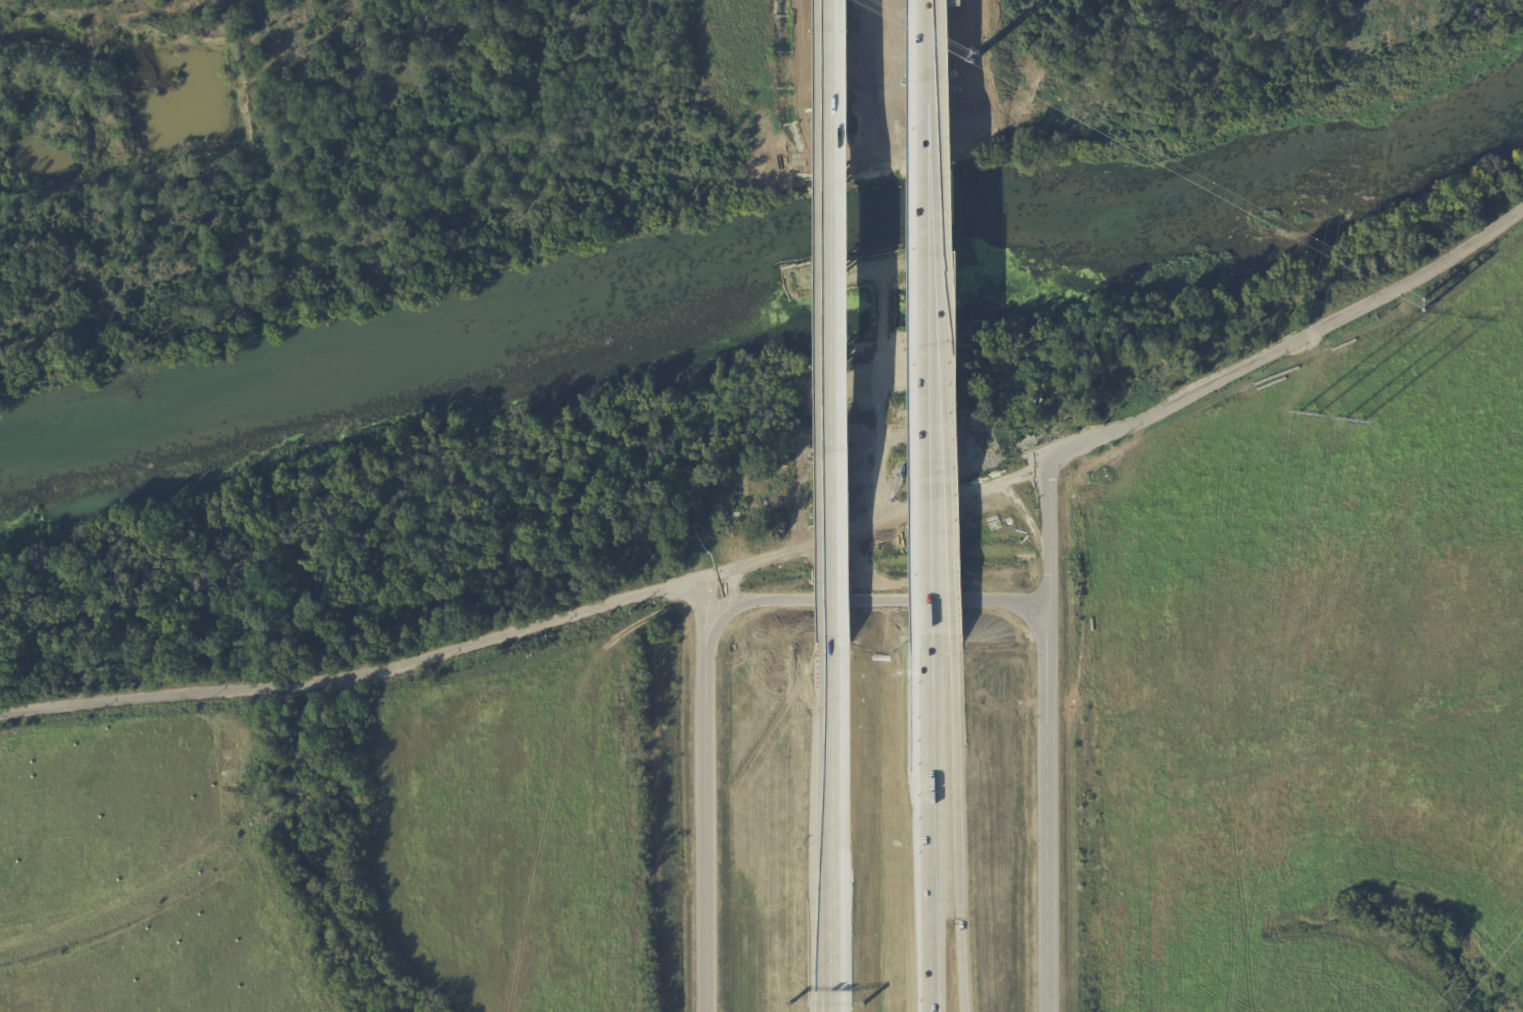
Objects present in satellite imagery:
power tower: (971, 60)
river: (766, 268)
power tower: (1423, 307)
road: (934, 323)
road: (827, 325)
road: (1269, 356)
power tower: (1331, 418)
road: (1048, 547)
road: (867, 602)
road: (574, 617)
road: (210, 689)
road: (829, 791)
road: (705, 795)
road: (1051, 827)
road: (955, 828)
road: (940, 829)
road: (827, 971)
road: (831, 971)

